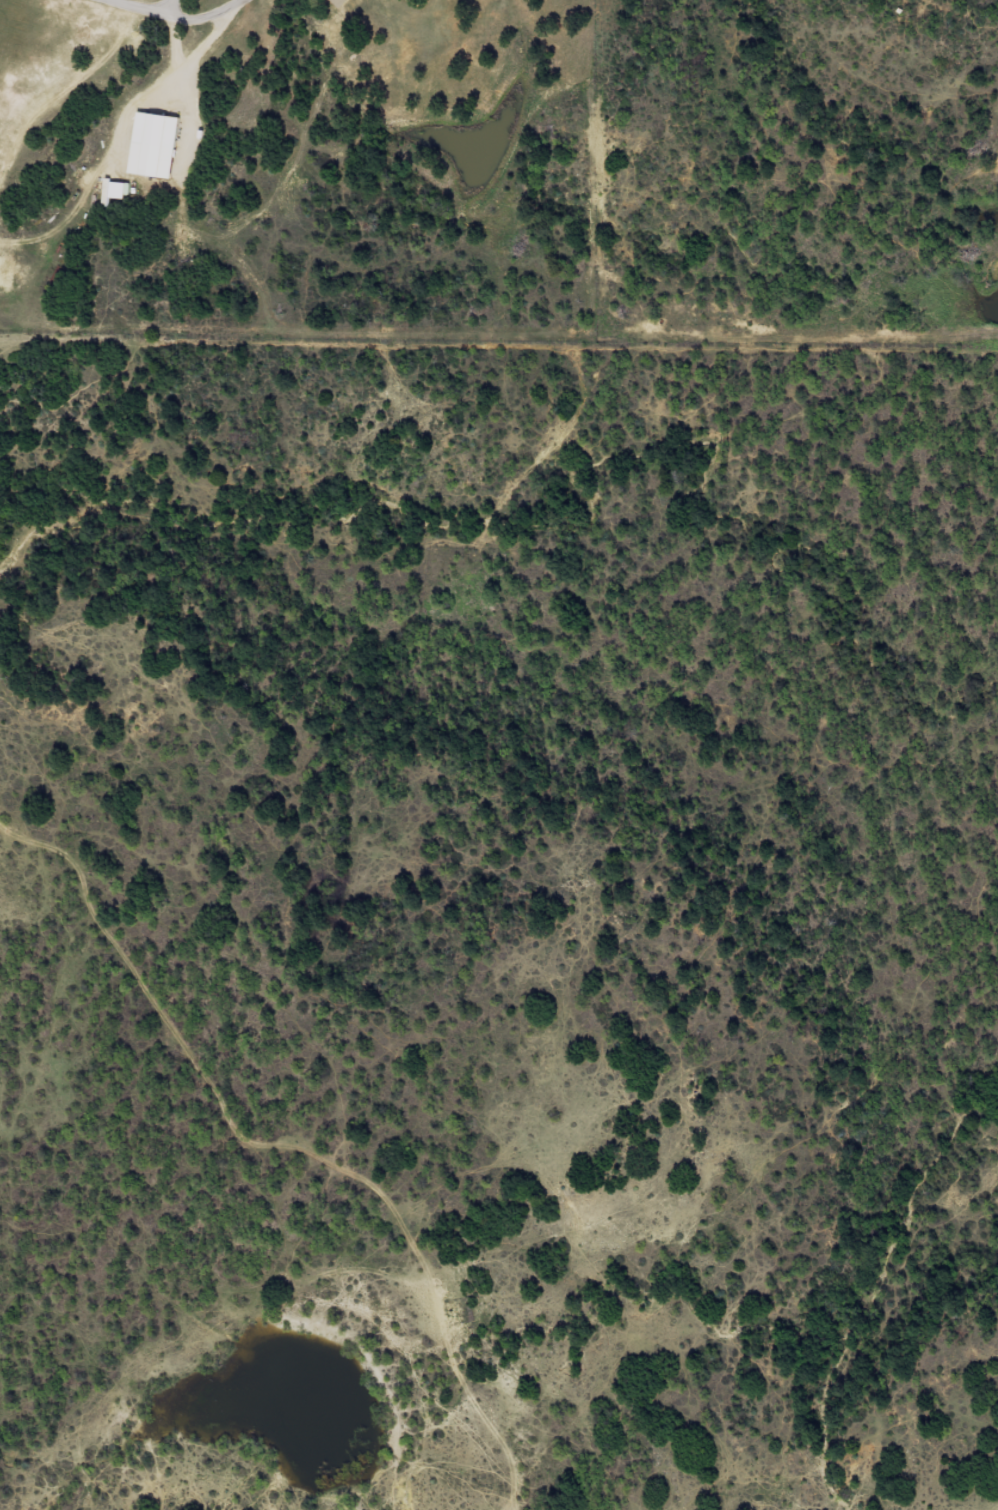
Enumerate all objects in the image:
building: (158, 128)

